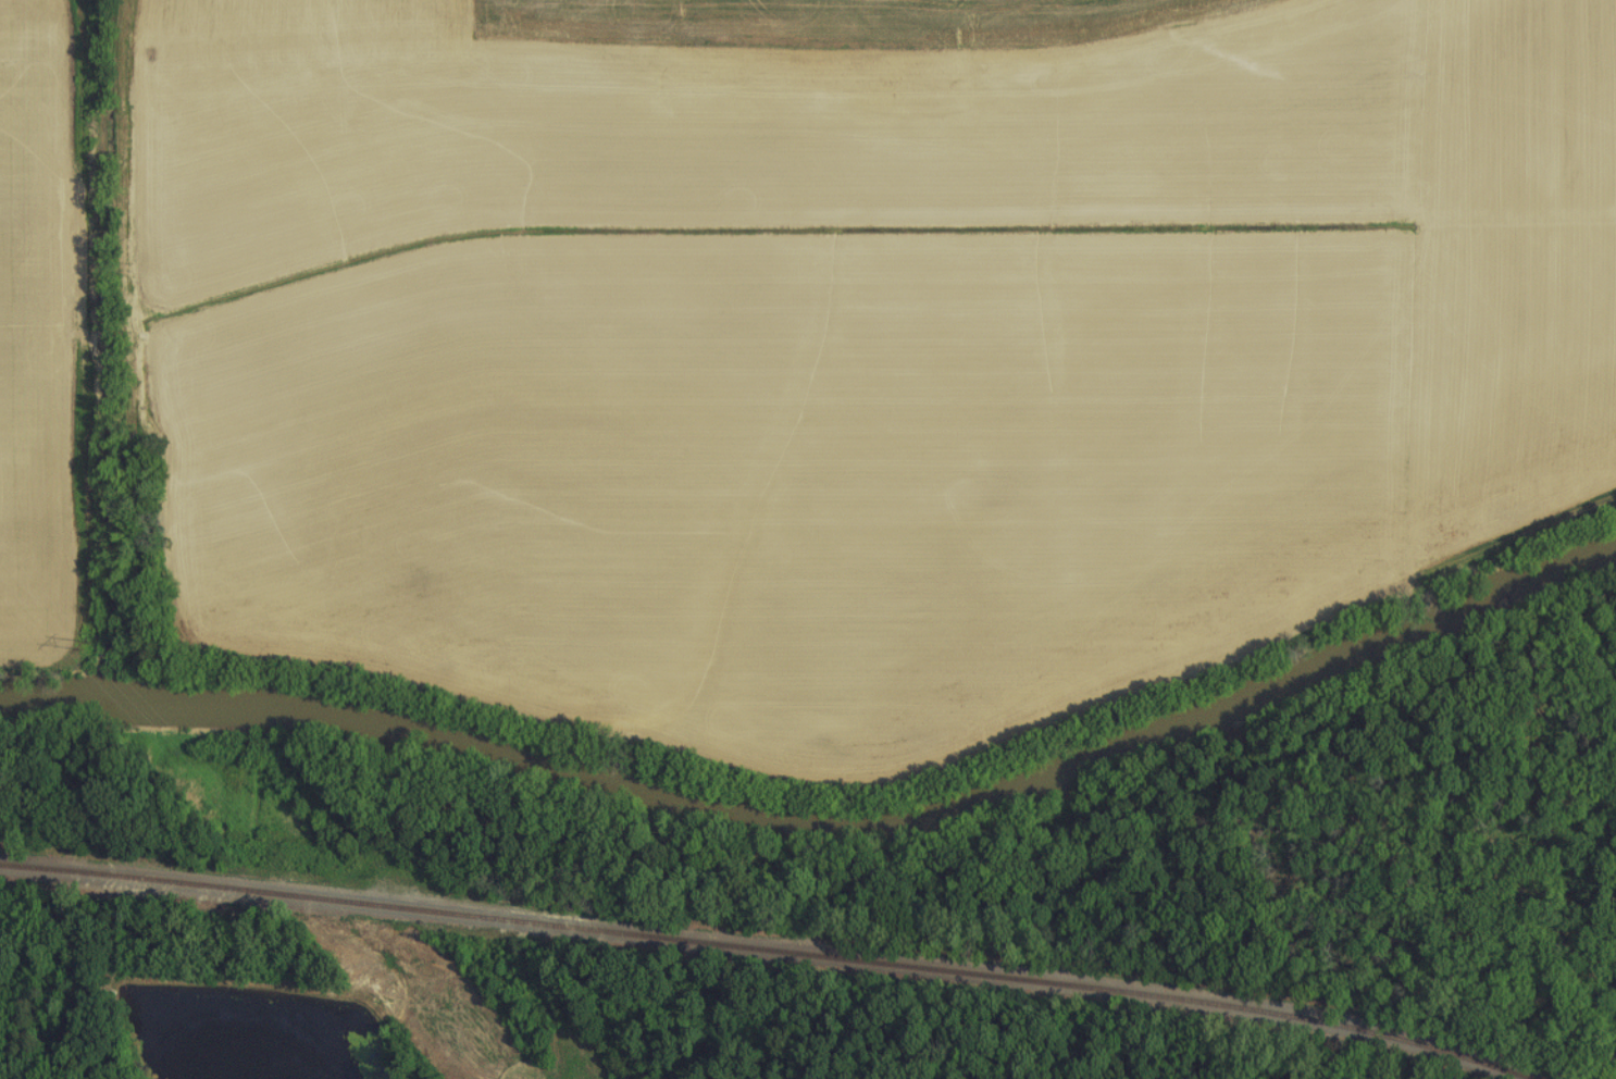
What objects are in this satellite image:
river: (826, 829)
railway: (772, 946)

